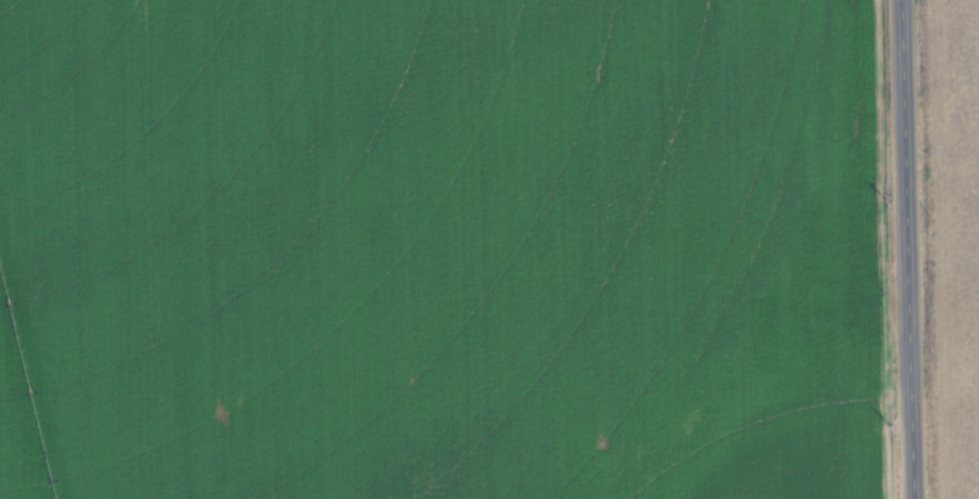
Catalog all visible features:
road: (904, 249)

